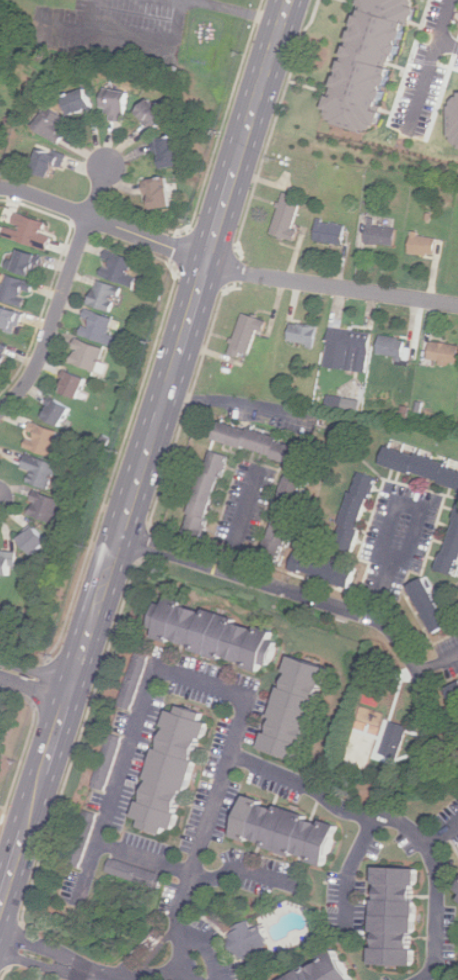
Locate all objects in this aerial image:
road: (239, 12)
road: (138, 41)
road: (448, 42)
building: (362, 61)
road: (430, 62)
building: (82, 101)
building: (118, 103)
building: (155, 113)
building: (451, 116)
road: (274, 123)
building: (54, 124)
building: (173, 151)
building: (51, 162)
building: (162, 192)
building: (289, 217)
building: (331, 232)
building: (32, 234)
building: (383, 234)
building: (425, 244)
building: (27, 263)
road: (223, 267)
building: (121, 268)
road: (231, 268)
building: (17, 291)
road: (62, 293)
building: (107, 296)
building: (11, 318)
building: (100, 328)
building: (305, 334)
building: (249, 335)
building: (394, 346)
building: (350, 350)
building: (445, 352)
building: (4, 353)
building: (89, 355)
building: (75, 384)
road: (238, 401)
building: (346, 404)
road: (186, 407)
building: (57, 412)
building: (45, 442)
building: (264, 443)
road: (147, 456)
building: (422, 467)
building: (45, 471)
building: (209, 495)
building: (46, 508)
building: (359, 511)
building: (287, 520)
road: (251, 521)
building: (38, 541)
road: (142, 544)
building: (452, 554)
road: (404, 557)
building: (8, 563)
building: (327, 569)
road: (321, 602)
building: (432, 605)
building: (207, 633)
road: (36, 675)
building: (135, 680)
road: (441, 680)
building: (454, 692)
building: (292, 706)
road: (132, 737)
building: (396, 739)
road: (78, 741)
building: (107, 759)
building: (167, 768)
road: (289, 778)
building: (291, 831)
road: (443, 834)
building: (82, 837)
road: (351, 867)
road: (239, 868)
building: (137, 874)
building: (399, 917)
building: (250, 941)
road: (13, 945)
building: (329, 970)
road: (4, 973)
road: (90, 973)

